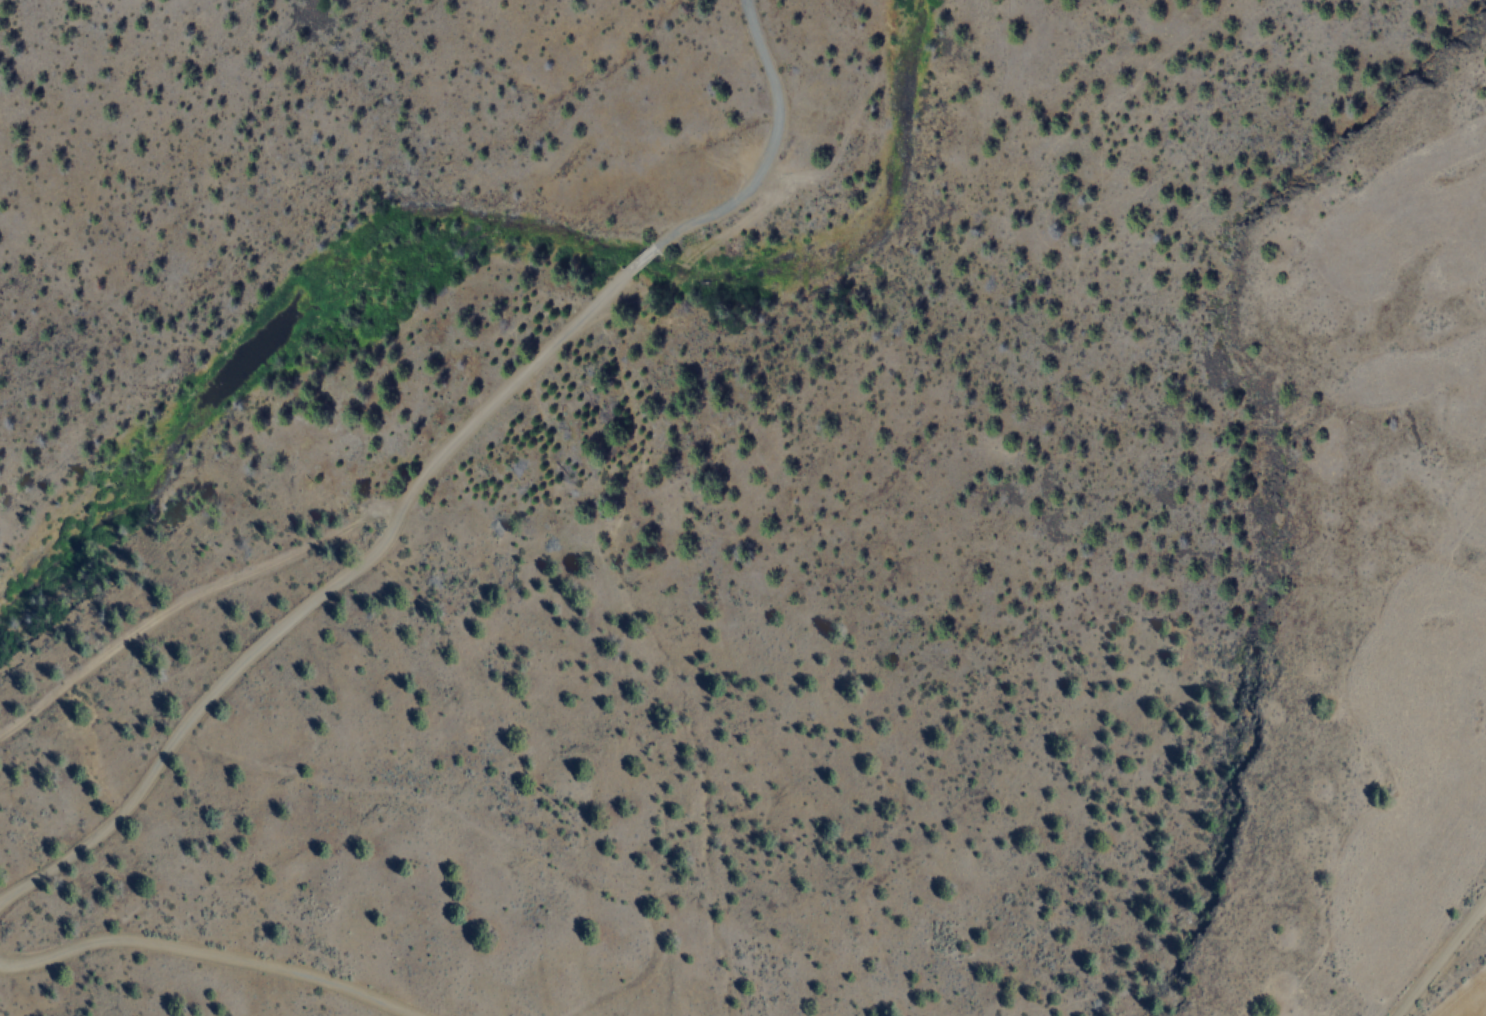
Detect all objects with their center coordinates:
road: (771, 137)
road: (654, 252)
road: (326, 596)
road: (201, 956)
road: (1441, 960)

